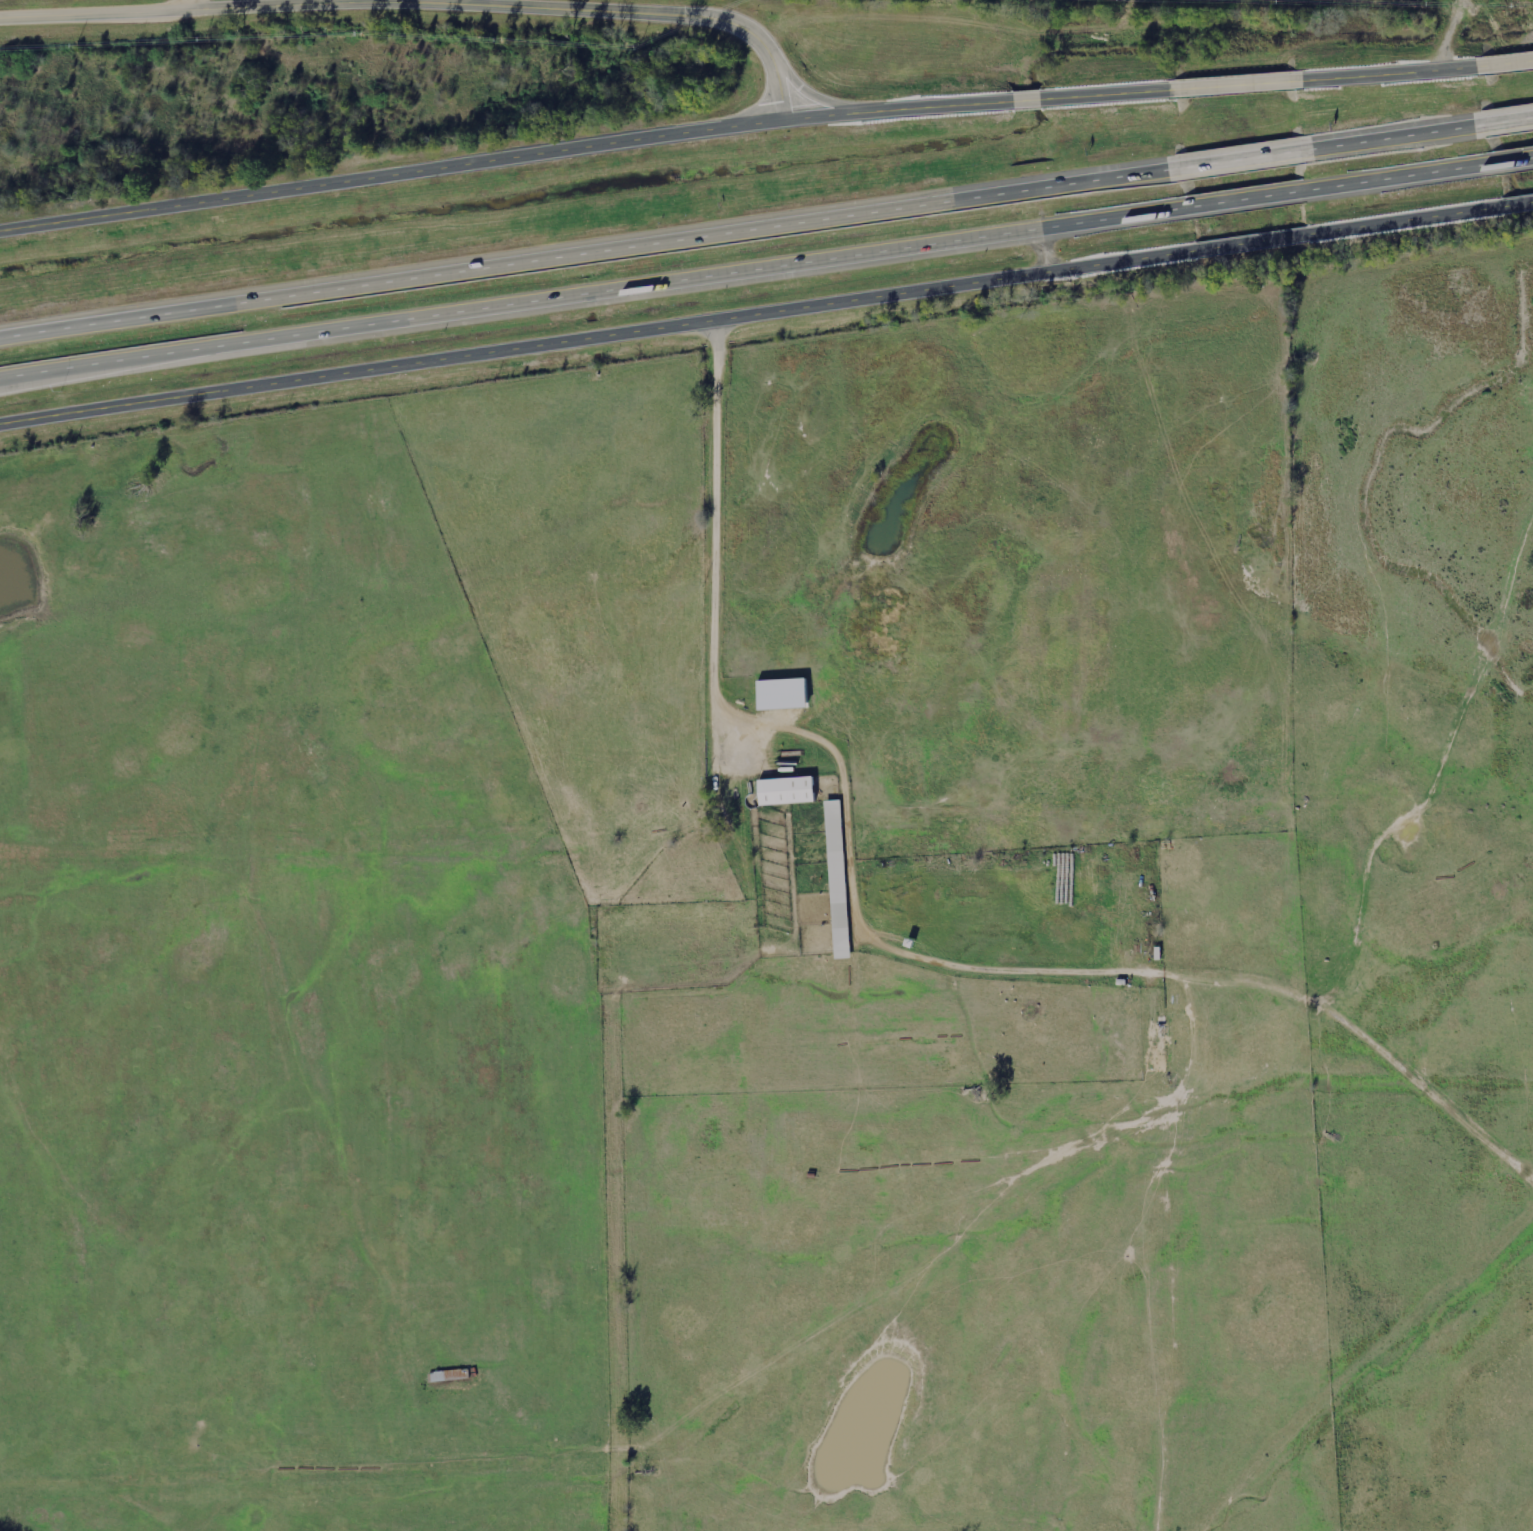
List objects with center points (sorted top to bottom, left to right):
road: (162, 6)
road: (628, 9)
road: (1505, 61)
road: (1388, 71)
road: (1237, 83)
road: (980, 101)
road: (1507, 119)
road: (1397, 135)
road: (1246, 157)
road: (1510, 158)
road: (392, 173)
road: (1396, 175)
road: (1246, 197)
road: (1516, 202)
road: (1404, 219)
road: (707, 234)
road: (1252, 241)
road: (592, 287)
road: (117, 319)
road: (596, 330)
building: (783, 693)
building: (785, 792)
building: (836, 882)
road: (876, 947)
building: (1153, 1033)

